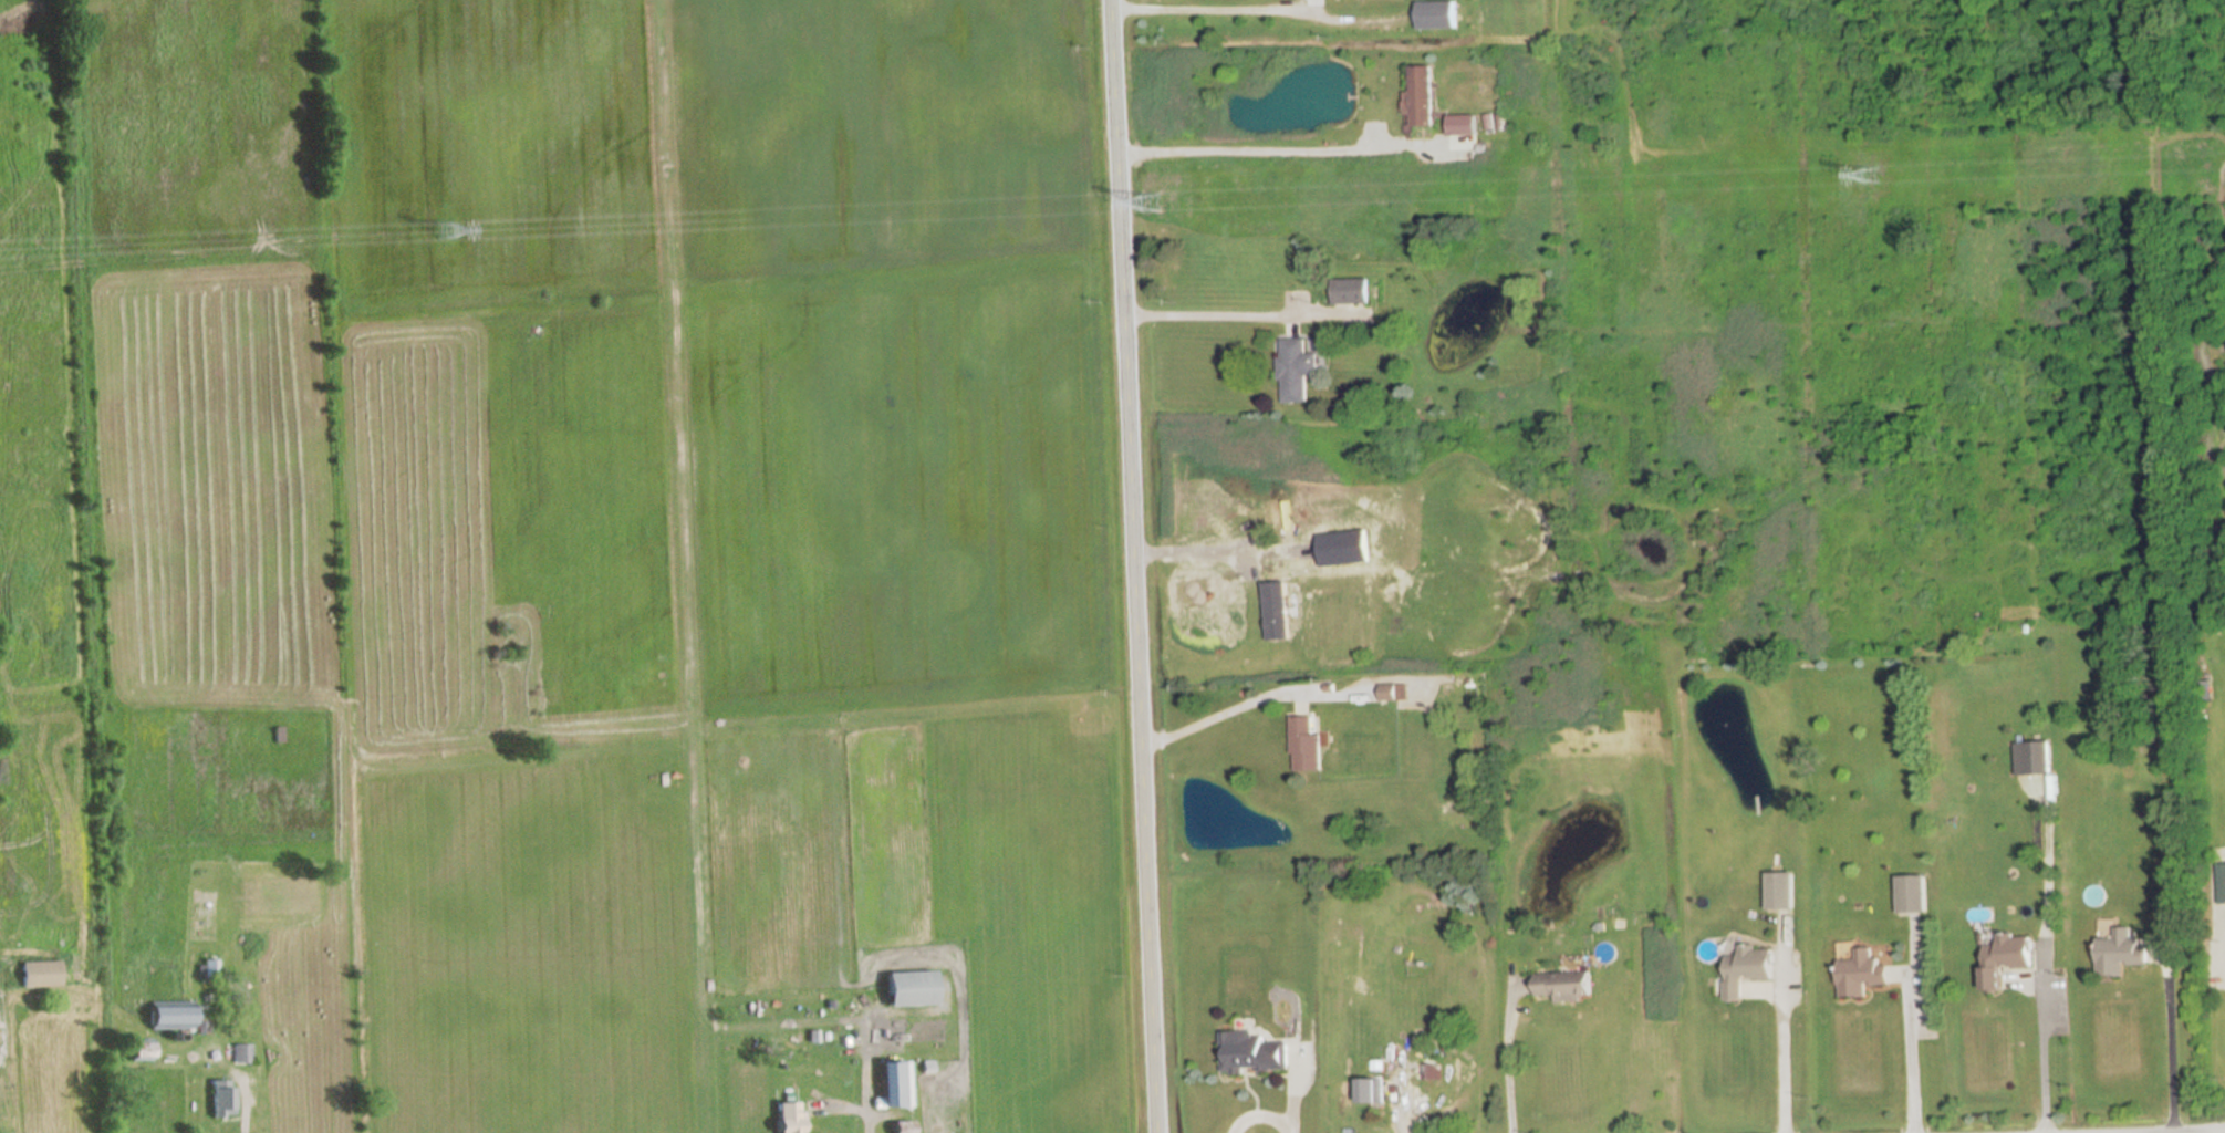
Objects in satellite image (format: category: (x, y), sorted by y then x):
road: (1280, 0)
building: (1434, 15)
building: (1420, 96)
building: (1459, 126)
road: (1257, 152)
power tower: (1869, 174)
power tower: (1148, 202)
power tower: (444, 232)
building: (1348, 291)
road: (1208, 313)
building: (1293, 370)
crop: (624, 523)
road: (1192, 548)
road: (1133, 565)
building: (1276, 611)
helipad: (1334, 619)
building: (2206, 689)
building: (1391, 693)
road: (1210, 719)
building: (1303, 745)
building: (2035, 758)
building: (1779, 892)
building: (1911, 894)
building: (2119, 953)
building: (2004, 958)
building: (1745, 969)
building: (37, 975)
building: (1860, 975)
building: (1563, 986)
building: (907, 989)
building: (167, 1016)
road: (2171, 1041)
building: (136, 1050)
building: (1254, 1053)
building: (239, 1054)
road: (2042, 1054)
road: (1911, 1056)
road: (1505, 1059)
road: (1781, 1062)
road: (232, 1070)
building: (1429, 1070)
building: (892, 1087)
building: (218, 1100)
building: (786, 1119)
building: (898, 1129)

